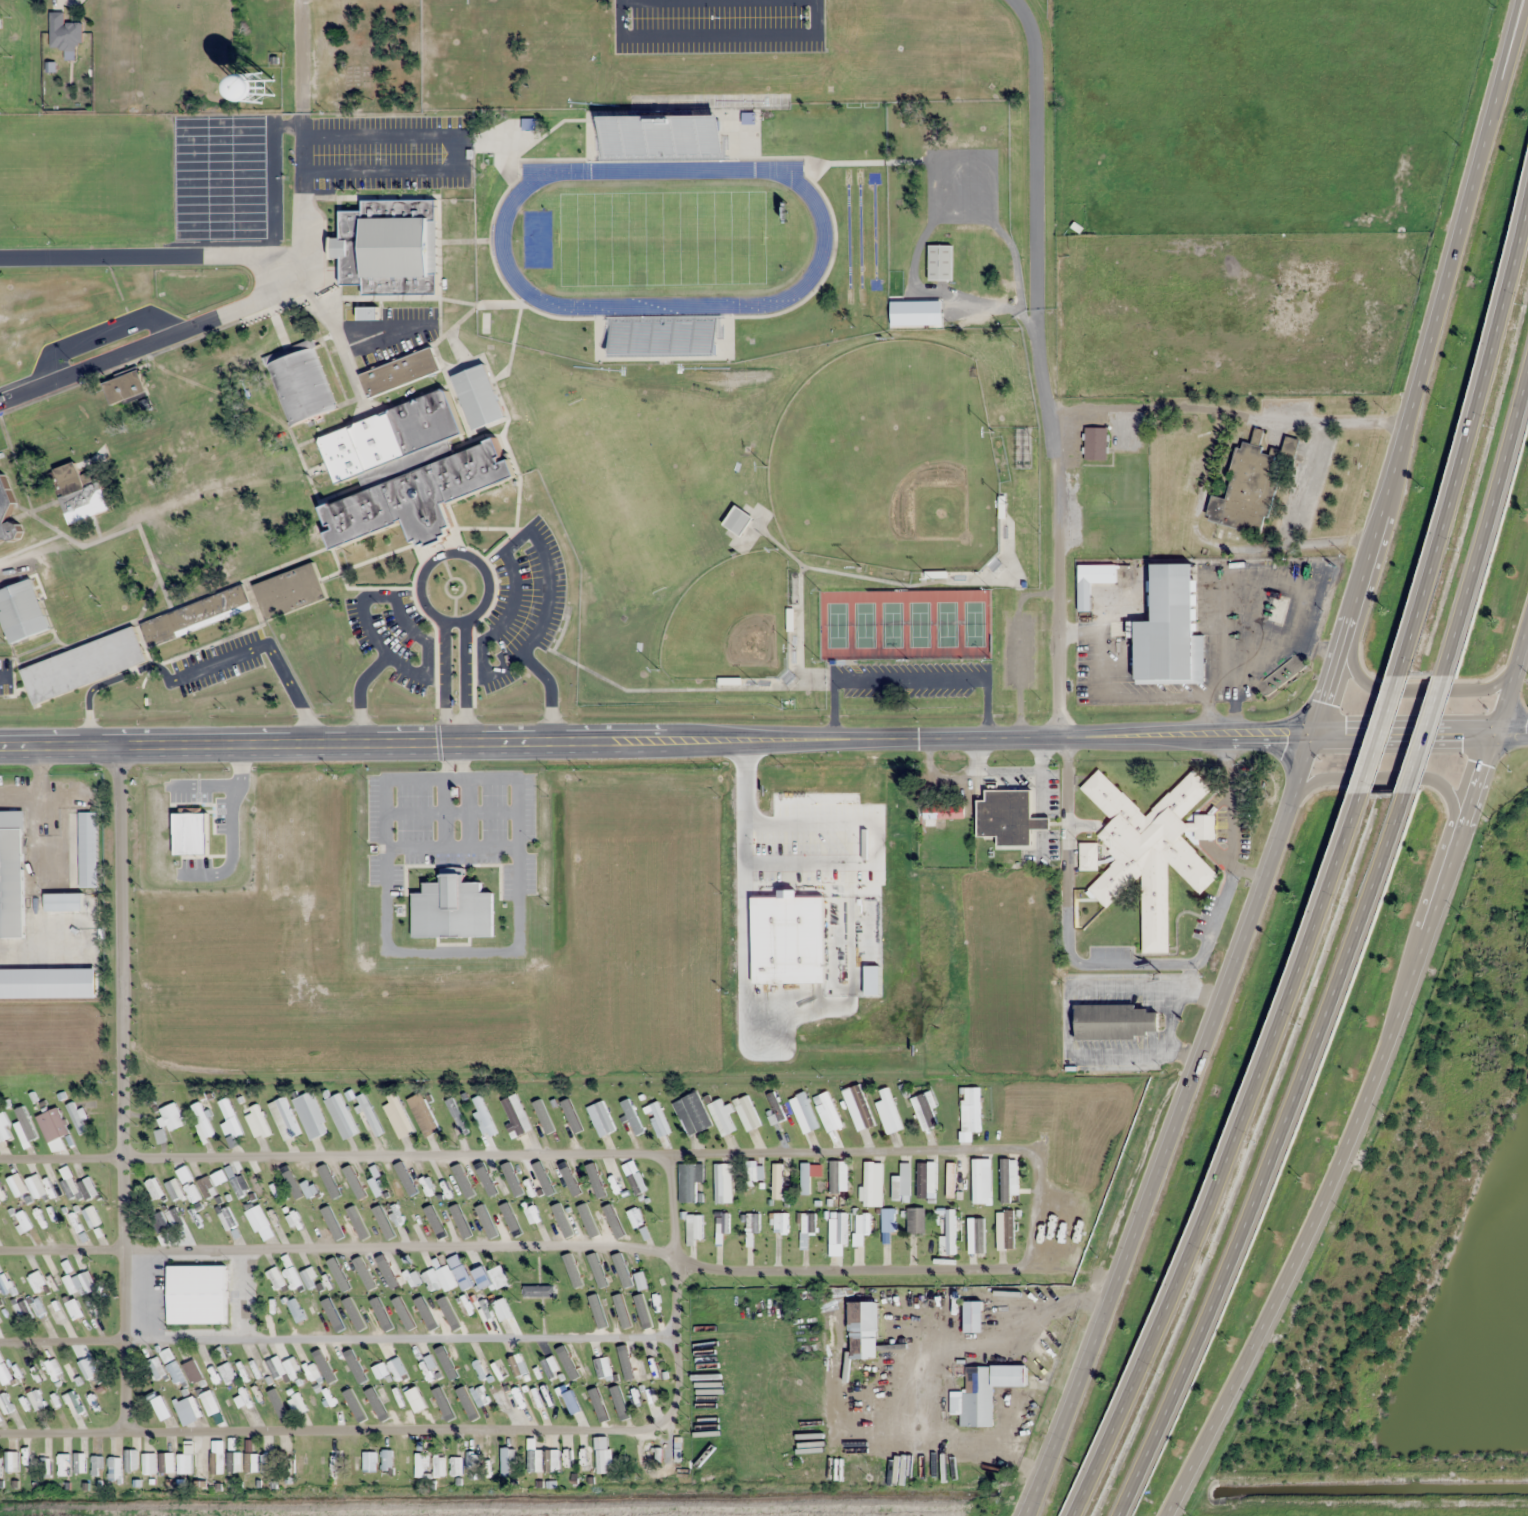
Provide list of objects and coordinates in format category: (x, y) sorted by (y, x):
building: (64, 32)
road: (1503, 66)
building: (259, 87)
building: (619, 136)
track: (501, 239)
park: (662, 240)
building: (390, 248)
road: (277, 254)
building: (940, 262)
building: (895, 306)
road: (156, 336)
building: (652, 338)
building: (399, 372)
building: (124, 388)
building: (477, 396)
road: (1464, 434)
building: (1095, 443)
building: (235, 451)
building: (468, 471)
building: (1252, 483)
building: (80, 492)
building: (1095, 500)
building: (222, 512)
building: (6, 514)
building: (737, 520)
road: (1487, 521)
building: (1093, 540)
road: (1059, 574)
building: (1105, 574)
building: (1277, 609)
building: (21, 612)
building: (1172, 630)
building: (82, 665)
road: (1418, 686)
road: (1425, 732)
road: (1380, 733)
road: (1512, 734)
road: (747, 740)
road: (1299, 768)
road: (1389, 777)
building: (942, 811)
building: (1009, 818)
building: (1151, 849)
building: (1088, 856)
building: (11, 874)
building: (64, 902)
building: (452, 908)
building: (1116, 1022)
road: (116, 1035)
road: (1364, 1074)
building: (858, 1107)
building: (923, 1111)
building: (747, 1112)
building: (806, 1112)
building: (888, 1112)
building: (369, 1113)
building: (455, 1113)
building: (691, 1113)
building: (310, 1115)
building: (171, 1116)
building: (341, 1116)
building: (483, 1116)
building: (832, 1116)
building: (77, 1117)
building: (660, 1117)
building: (720, 1117)
building: (283, 1118)
building: (542, 1118)
building: (601, 1118)
building: (229, 1119)
building: (256, 1119)
building: (397, 1119)
building: (54, 1123)
building: (202, 1123)
building: (574, 1123)
building: (3, 1130)
road: (1226, 1158)
road: (1270, 1158)
building: (834, 1175)
building: (804, 1177)
building: (926, 1179)
building: (950, 1179)
building: (776, 1180)
building: (1008, 1180)
building: (689, 1181)
building: (234, 1182)
building: (901, 1182)
building: (981, 1182)
building: (254, 1183)
building: (868, 1183)
building: (410, 1184)
building: (17, 1185)
building: (494, 1185)
building: (722, 1185)
building: (2, 1186)
building: (36, 1186)
building: (206, 1186)
building: (428, 1186)
building: (462, 1186)
building: (70, 1187)
building: (87, 1187)
building: (154, 1188)
building: (275, 1188)
building: (174, 1190)
building: (192, 1191)
building: (378, 1212)
building: (39, 1216)
building: (90, 1216)
building: (484, 1216)
building: (635, 1216)
building: (448, 1217)
building: (174, 1218)
building: (226, 1218)
building: (432, 1218)
building: (294, 1219)
building: (915, 1219)
building: (888, 1220)
building: (21, 1221)
building: (265, 1221)
building: (158, 1222)
building: (752, 1222)
building: (780, 1222)
building: (807, 1222)
building: (862, 1222)
building: (695, 1223)
building: (720, 1228)
building: (837, 1228)
building: (1005, 1229)
building: (949, 1233)
building: (0, 1241)
building: (459, 1273)
building: (394, 1275)
building: (430, 1276)
building: (310, 1277)
building: (481, 1277)
building: (498, 1277)
building: (275, 1278)
building: (377, 1278)
building: (80, 1282)
building: (5, 1283)
building: (538, 1290)
building: (196, 1294)
building: (73, 1309)
building: (93, 1310)
building: (501, 1310)
road: (55, 1322)
road: (263, 1324)
building: (863, 1329)
building: (516, 1365)
building: (283, 1367)
building: (549, 1367)
building: (85, 1368)
building: (155, 1368)
building: (604, 1368)
building: (479, 1369)
building: (191, 1370)
building: (379, 1370)
building: (399, 1371)
building: (70, 1372)
building: (174, 1372)
building: (312, 1372)
building: (5, 1376)
building: (479, 1396)
building: (977, 1396)
building: (465, 1397)
building: (326, 1398)
building: (415, 1399)
building: (36, 1400)
building: (91, 1401)
building: (243, 1401)
building: (516, 1401)
building: (571, 1402)
building: (5, 1404)
building: (296, 1404)
building: (163, 1408)
road: (125, 1418)
road: (1063, 1421)
building: (26, 1455)
building: (602, 1456)
building: (12, 1460)
building: (131, 1460)
building: (472, 1460)
building: (507, 1460)
building: (534, 1460)
building: (551, 1460)
building: (233, 1461)
building: (369, 1461)
building: (79, 1462)
building: (212, 1462)
building: (251, 1462)
building: (97, 1463)
building: (266, 1463)
building: (63, 1464)
building: (184, 1464)
building: (421, 1464)
building: (287, 1465)
building: (455, 1465)
building: (336, 1466)
building: (438, 1466)
building: (44, 1467)
building: (114, 1468)
road: (1170, 1507)

